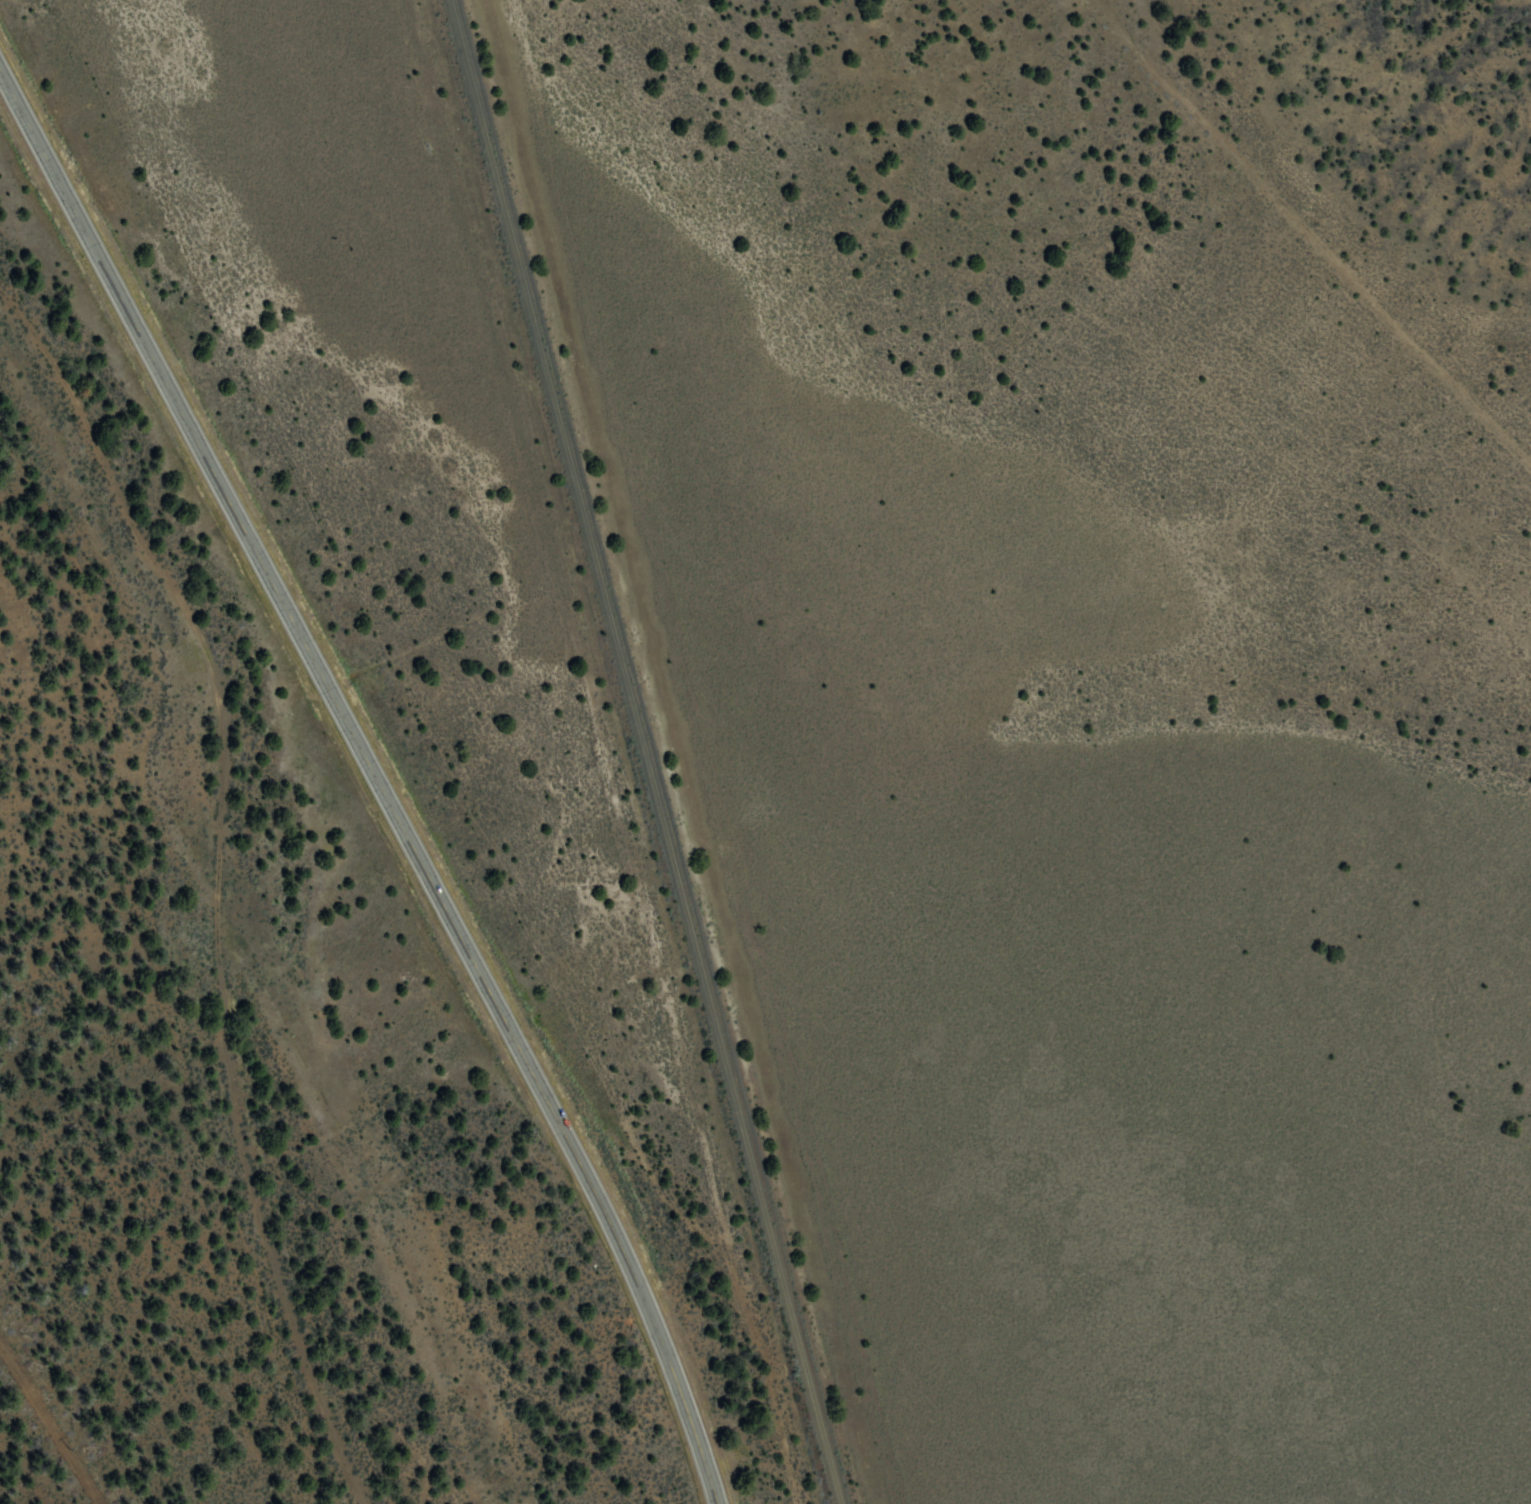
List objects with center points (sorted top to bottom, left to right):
road: (1309, 233)
road: (376, 777)
road: (218, 879)

